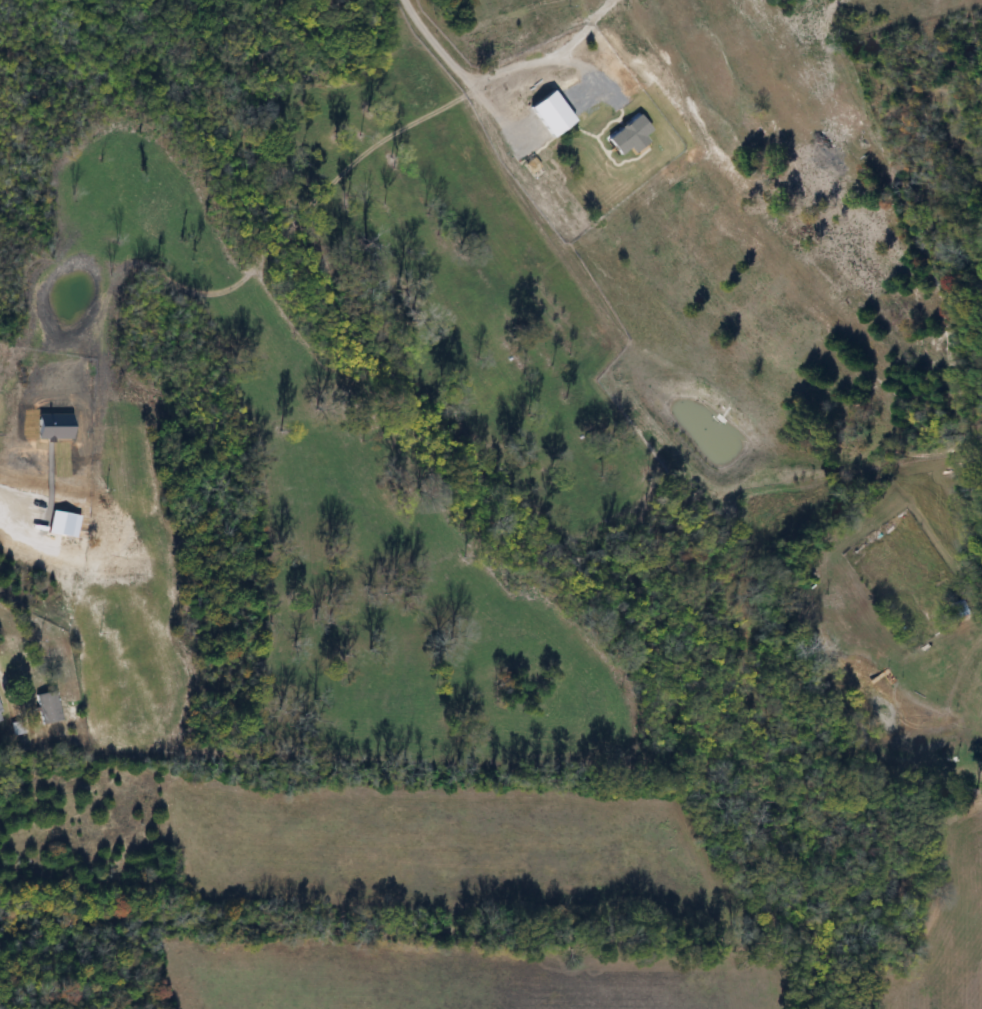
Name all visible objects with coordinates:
road: (542, 59)
road: (460, 70)
building: (964, 607)
building: (46, 708)

